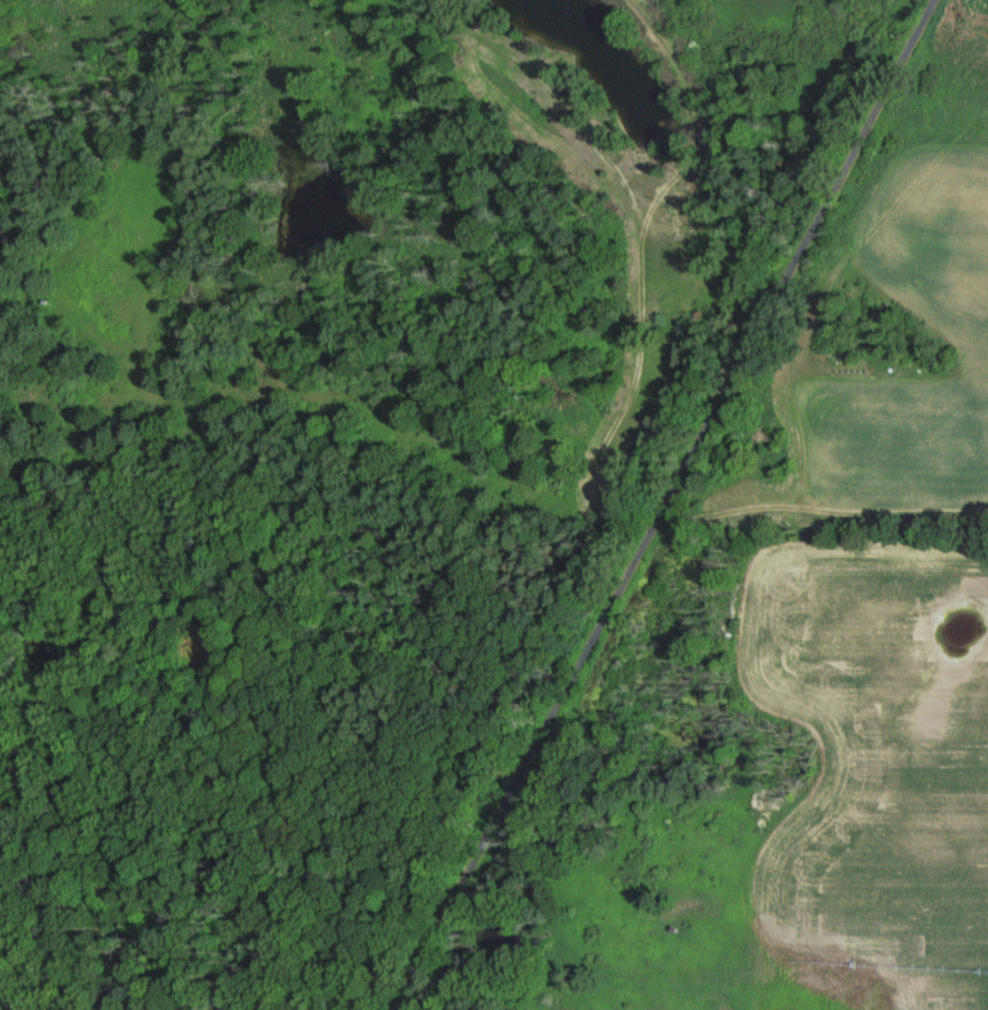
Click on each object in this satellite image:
road: (653, 505)

